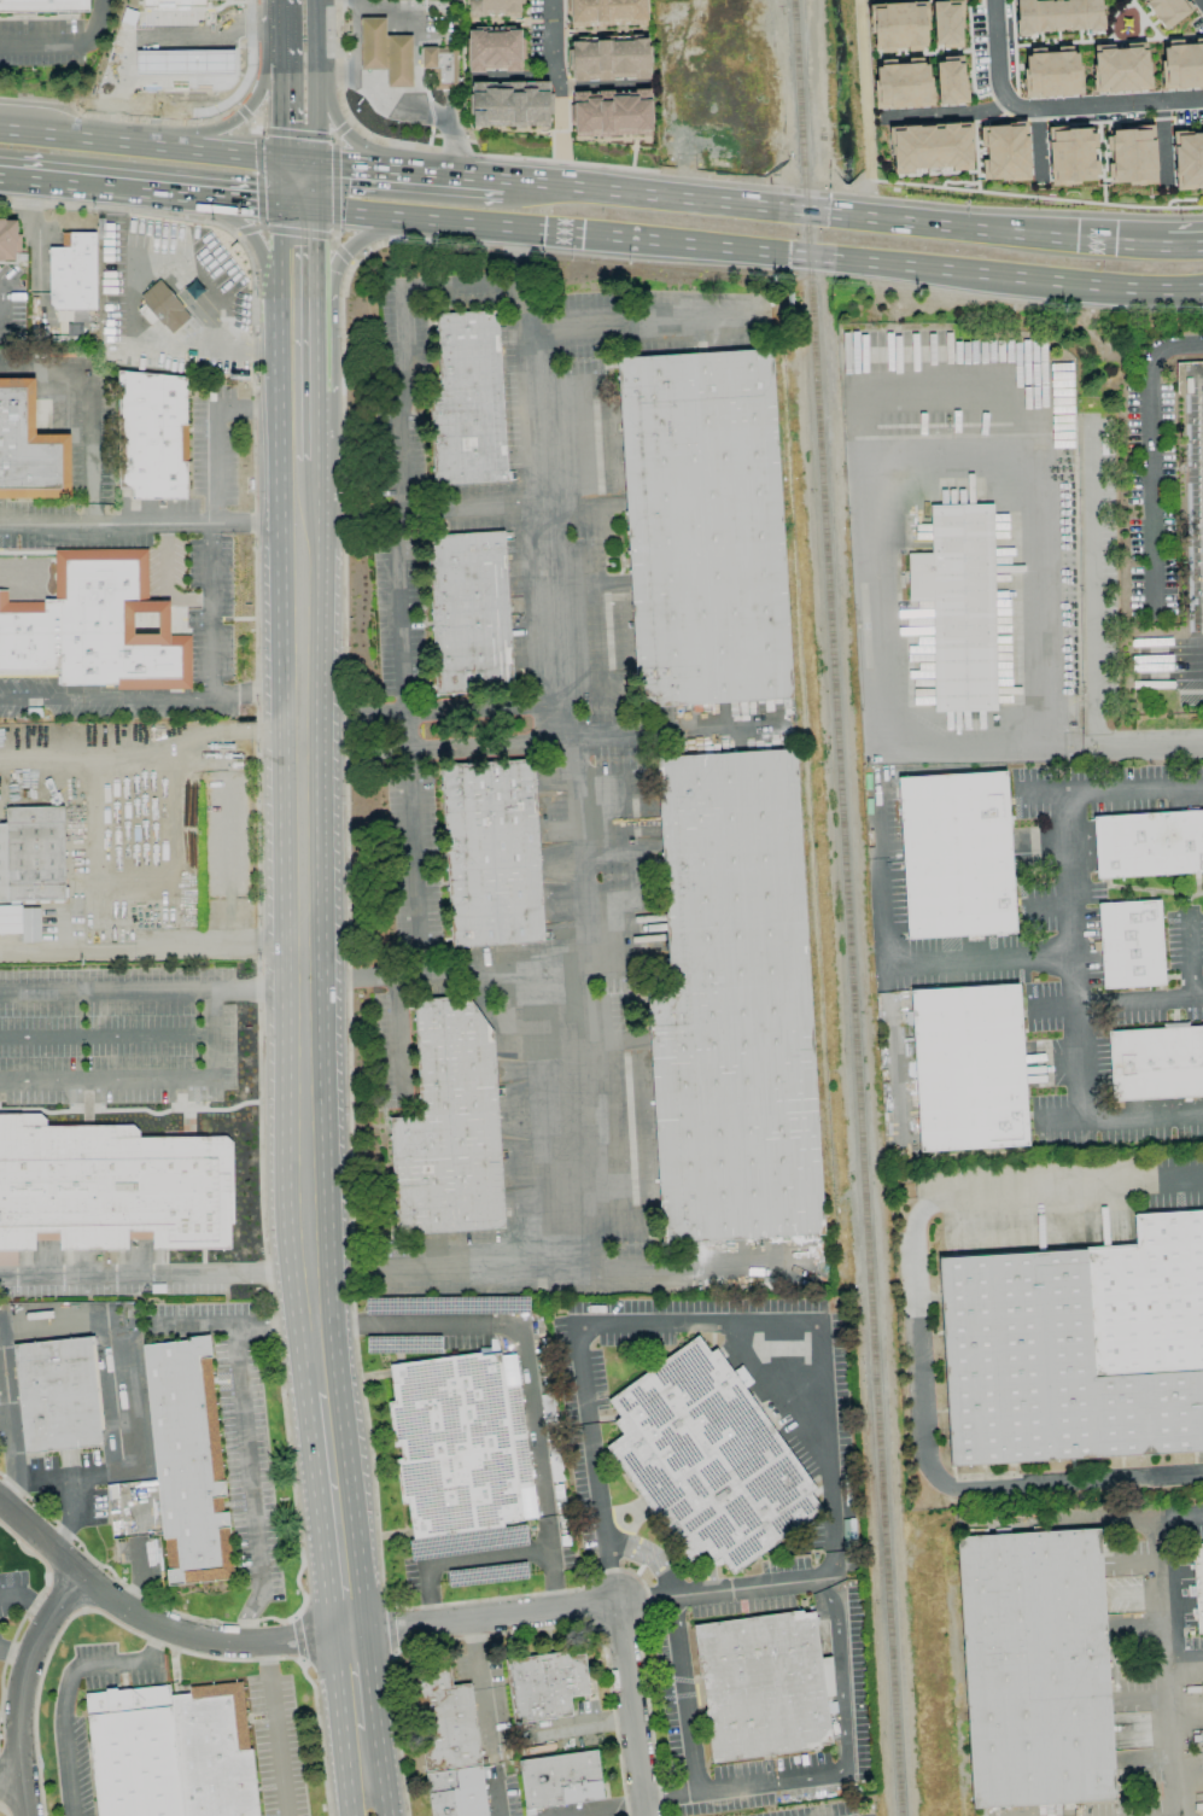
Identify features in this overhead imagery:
road: (1202, 0)
building: (171, 2)
building: (42, 5)
road: (436, 5)
building: (494, 7)
building: (1166, 11)
building: (606, 12)
building: (1057, 14)
road: (281, 18)
building: (948, 22)
building: (899, 24)
road: (151, 35)
traffic signals: (284, 36)
road: (414, 36)
building: (373, 45)
road: (66, 46)
road: (555, 47)
building: (494, 51)
road: (993, 51)
building: (179, 57)
gas station: (179, 57)
building: (608, 59)
building: (399, 62)
building: (438, 64)
gas station: (438, 64)
building: (1181, 64)
road: (448, 65)
building: (1120, 69)
building: (1050, 72)
road: (316, 80)
building: (948, 81)
road: (368, 82)
building: (901, 83)
road: (286, 98)
road: (449, 103)
building: (508, 104)
road: (1104, 105)
road: (244, 112)
road: (239, 113)
building: (611, 113)
road: (947, 113)
road: (255, 127)
traffic signals: (287, 128)
road: (341, 129)
road: (450, 129)
road: (294, 134)
road: (345, 134)
road: (560, 139)
road: (144, 146)
building: (930, 146)
building: (1006, 151)
building: (1071, 154)
building: (1129, 154)
building: (1187, 159)
traffic signals: (338, 164)
road: (348, 164)
road: (479, 175)
road: (258, 180)
road: (556, 183)
road: (296, 185)
road: (310, 185)
road: (94, 186)
road: (333, 186)
road: (246, 202)
traffic signals: (255, 203)
road: (882, 220)
road: (245, 230)
road: (297, 232)
traffic signals: (304, 238)
building: (7, 240)
road: (334, 241)
road: (753, 251)
road: (264, 255)
road: (341, 256)
road: (344, 256)
building: (74, 273)
road: (304, 276)
road: (2, 300)
building: (163, 308)
road: (1, 316)
road: (640, 321)
road: (179, 346)
road: (1164, 348)
road: (305, 349)
road: (255, 351)
road: (958, 379)
building: (468, 402)
road: (88, 404)
road: (256, 411)
road: (304, 411)
building: (151, 436)
building: (29, 448)
road: (951, 451)
road: (208, 459)
road: (1151, 491)
road: (304, 498)
road: (494, 504)
parking lot: (1192, 506)
road: (152, 524)
building: (705, 529)
road: (402, 549)
road: (1091, 584)
building: (959, 606)
road: (208, 611)
building: (469, 613)
building: (97, 626)
road: (354, 691)
road: (105, 696)
road: (257, 697)
road: (431, 712)
road: (659, 726)
road: (152, 737)
road: (1036, 747)
road: (430, 749)
road: (565, 752)
road: (1120, 790)
building: (1149, 843)
road: (227, 853)
building: (491, 853)
building: (33, 854)
building: (956, 856)
railway: (845, 907)
building: (21, 922)
building: (1131, 945)
road: (152, 947)
road: (304, 962)
road: (1195, 963)
road: (889, 964)
road: (437, 973)
road: (152, 989)
road: (1119, 1002)
building: (734, 1006)
road: (1074, 1016)
road: (109, 1035)
road: (398, 1039)
building: (1156, 1063)
building: (969, 1068)
road: (152, 1078)
road: (349, 1094)
building: (449, 1126)
building: (111, 1186)
road: (487, 1273)
road: (156, 1275)
road: (705, 1322)
road: (234, 1329)
road: (919, 1337)
building: (1078, 1348)
road: (522, 1367)
building: (57, 1395)
road: (8, 1417)
building: (457, 1444)
road: (250, 1456)
building: (707, 1459)
building: (187, 1460)
road: (596, 1462)
road: (69, 1496)
road: (960, 1502)
road: (1179, 1516)
road: (950, 1517)
road: (333, 1518)
road: (833, 1553)
road: (457, 1558)
building: (1198, 1584)
road: (250, 1613)
road: (286, 1643)
road: (477, 1651)
road: (1184, 1660)
road: (1166, 1665)
building: (1035, 1669)
road: (350, 1671)
road: (64, 1684)
building: (545, 1684)
building: (764, 1684)
building: (1202, 1689)
road: (27, 1691)
road: (688, 1692)
road: (958, 1695)
road: (631, 1709)
building: (445, 1719)
road: (486, 1722)
road: (278, 1730)
road: (358, 1740)
road: (935, 1740)
building: (134, 1752)
building: (214, 1752)
road: (839, 1767)
road: (938, 1767)
building: (560, 1780)
road: (8, 1785)
road: (496, 1789)
building: (457, 1792)
road: (354, 1794)
road: (375, 1794)

